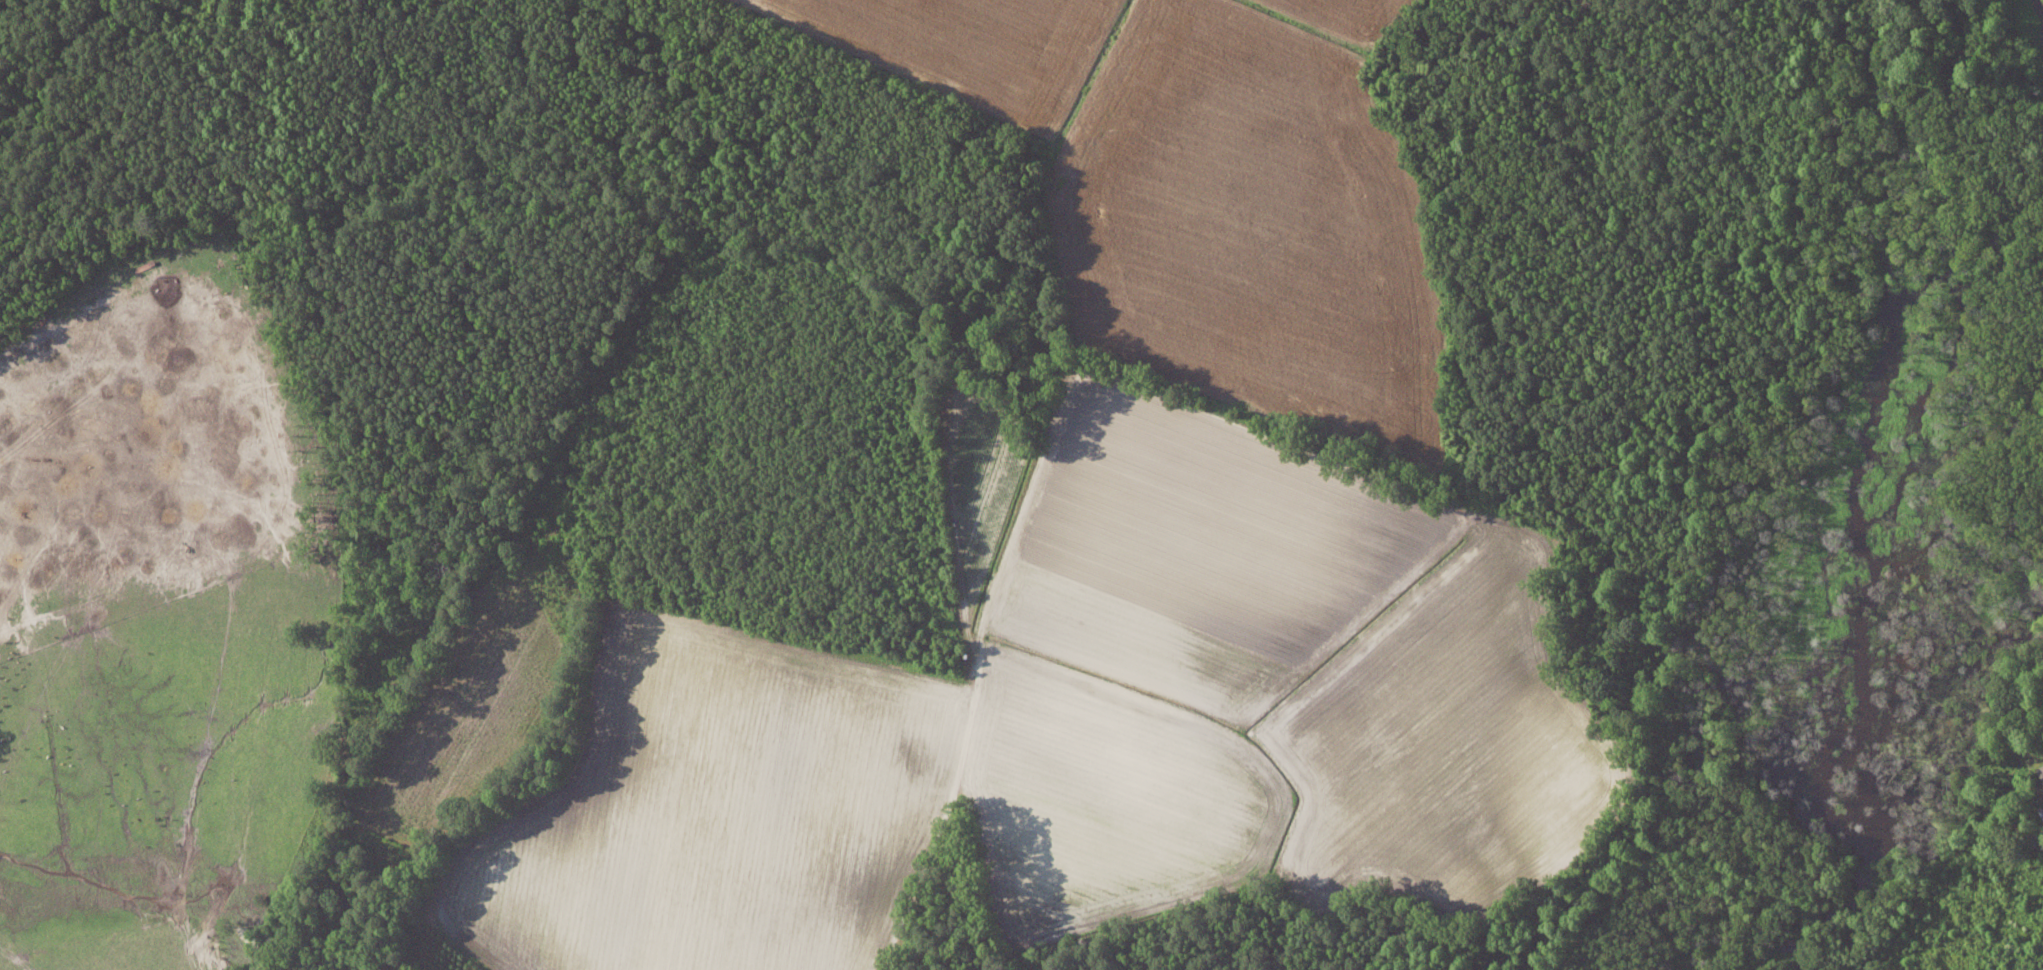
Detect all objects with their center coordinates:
building: (2041, 769)

